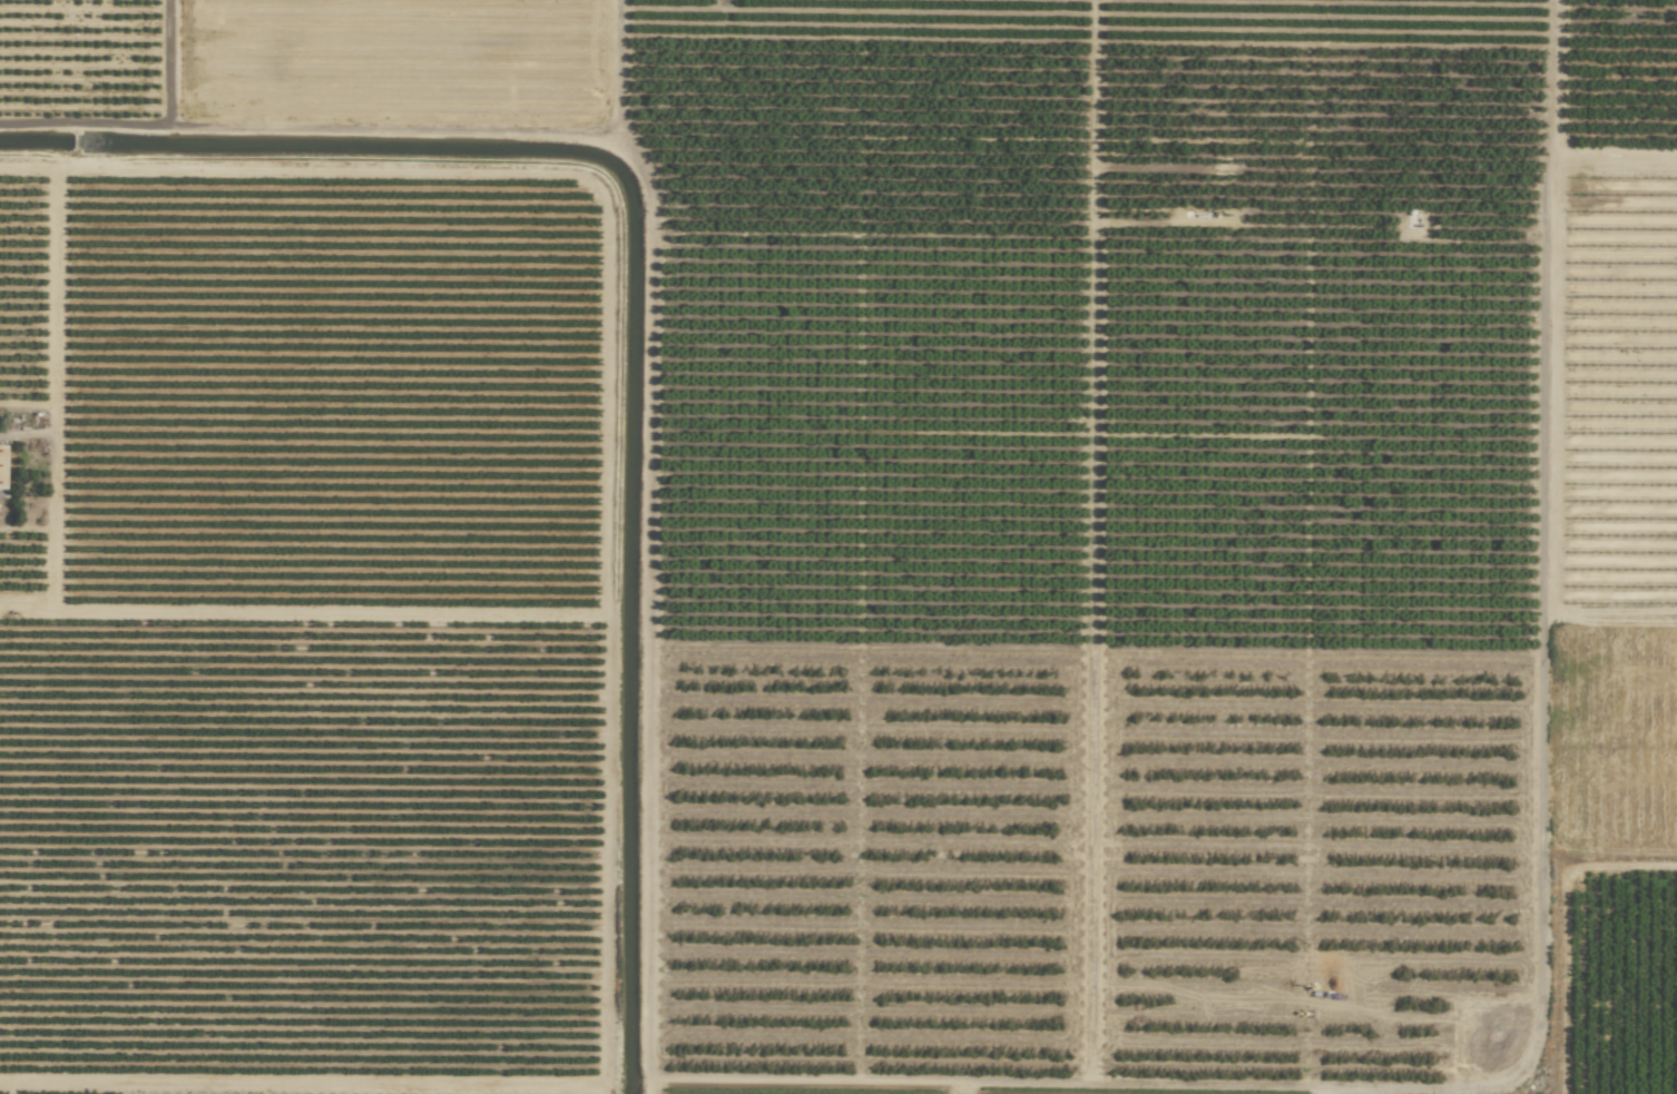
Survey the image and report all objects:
building: (1, 466)

